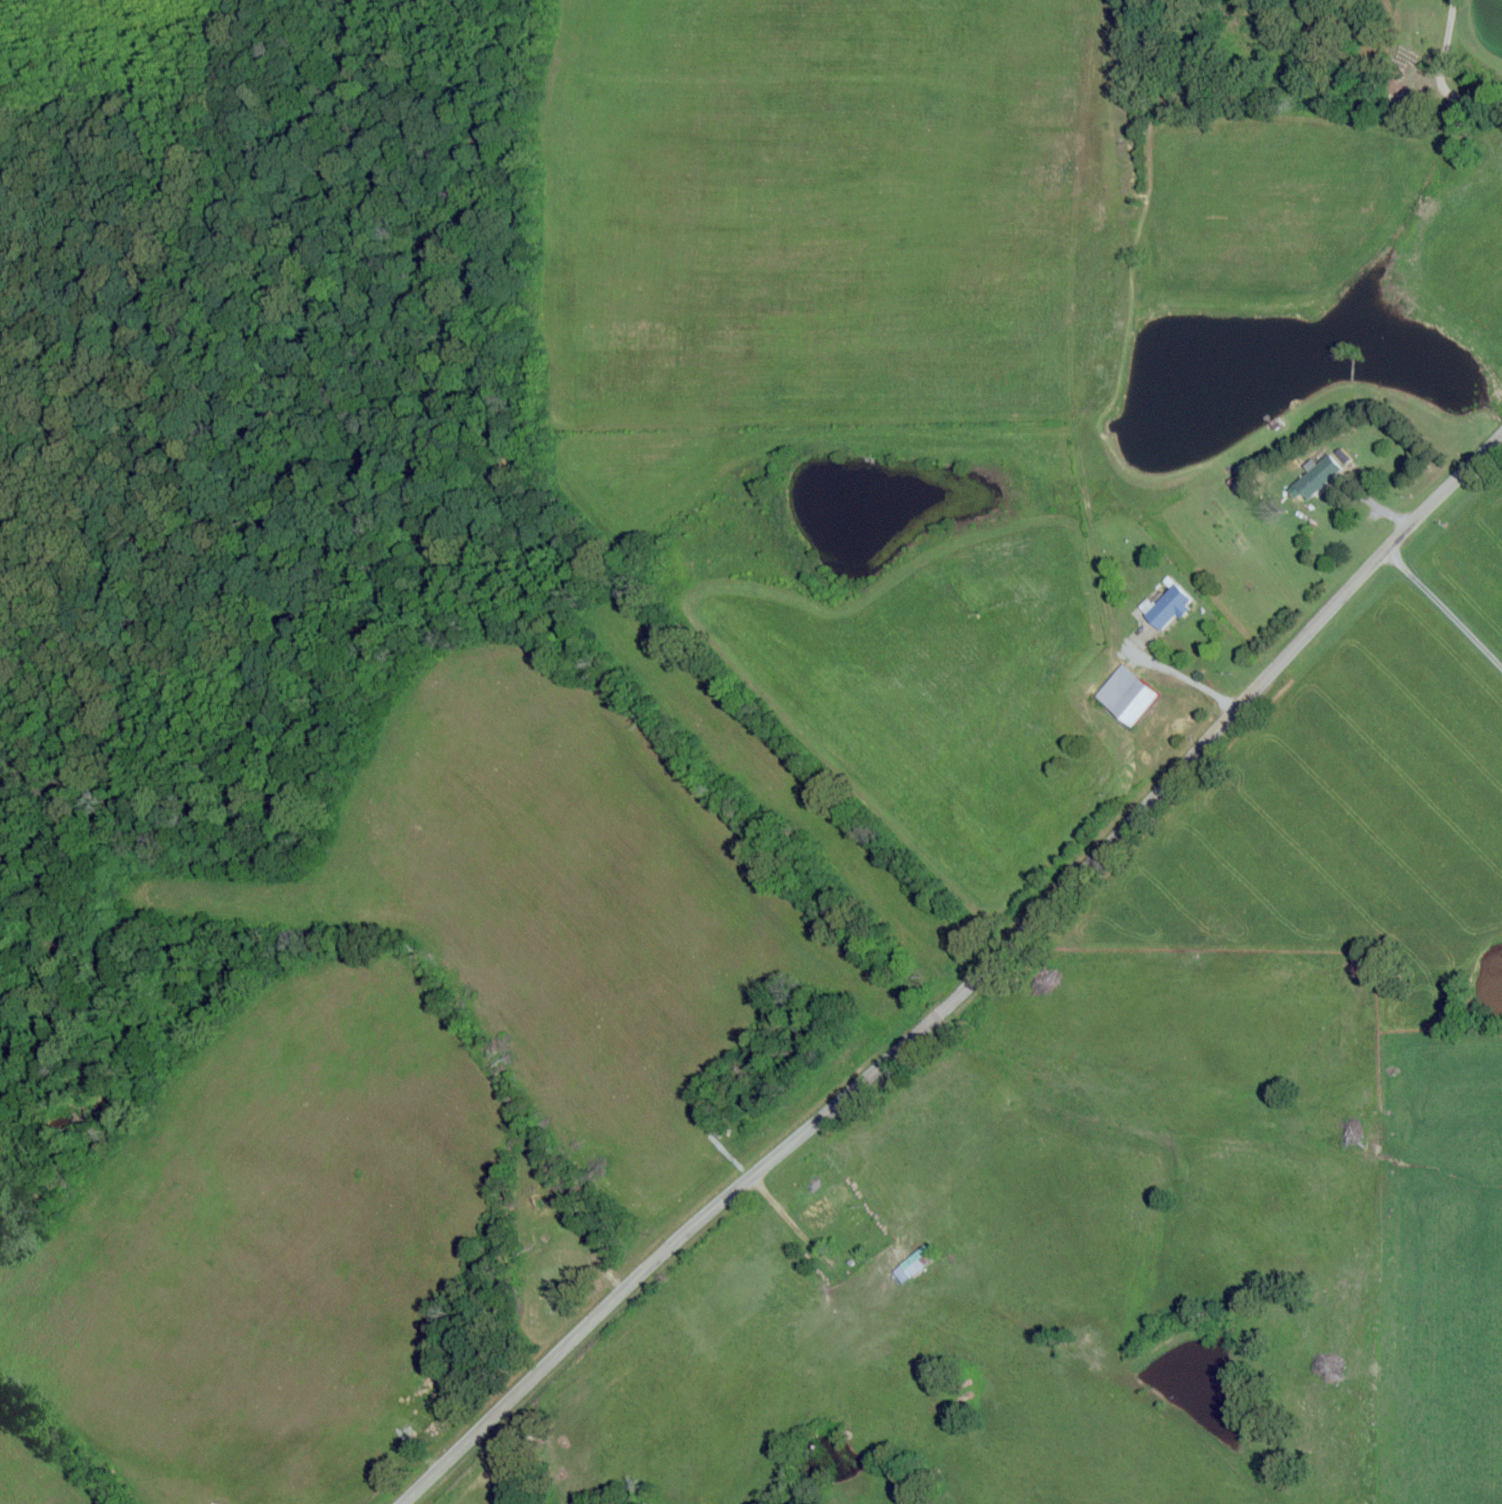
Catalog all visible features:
road: (1439, 77)
building: (1318, 478)
road: (1442, 607)
building: (1168, 608)
building: (1125, 696)
road: (967, 984)
building: (812, 1214)
park: (551, 1254)
building: (911, 1264)

